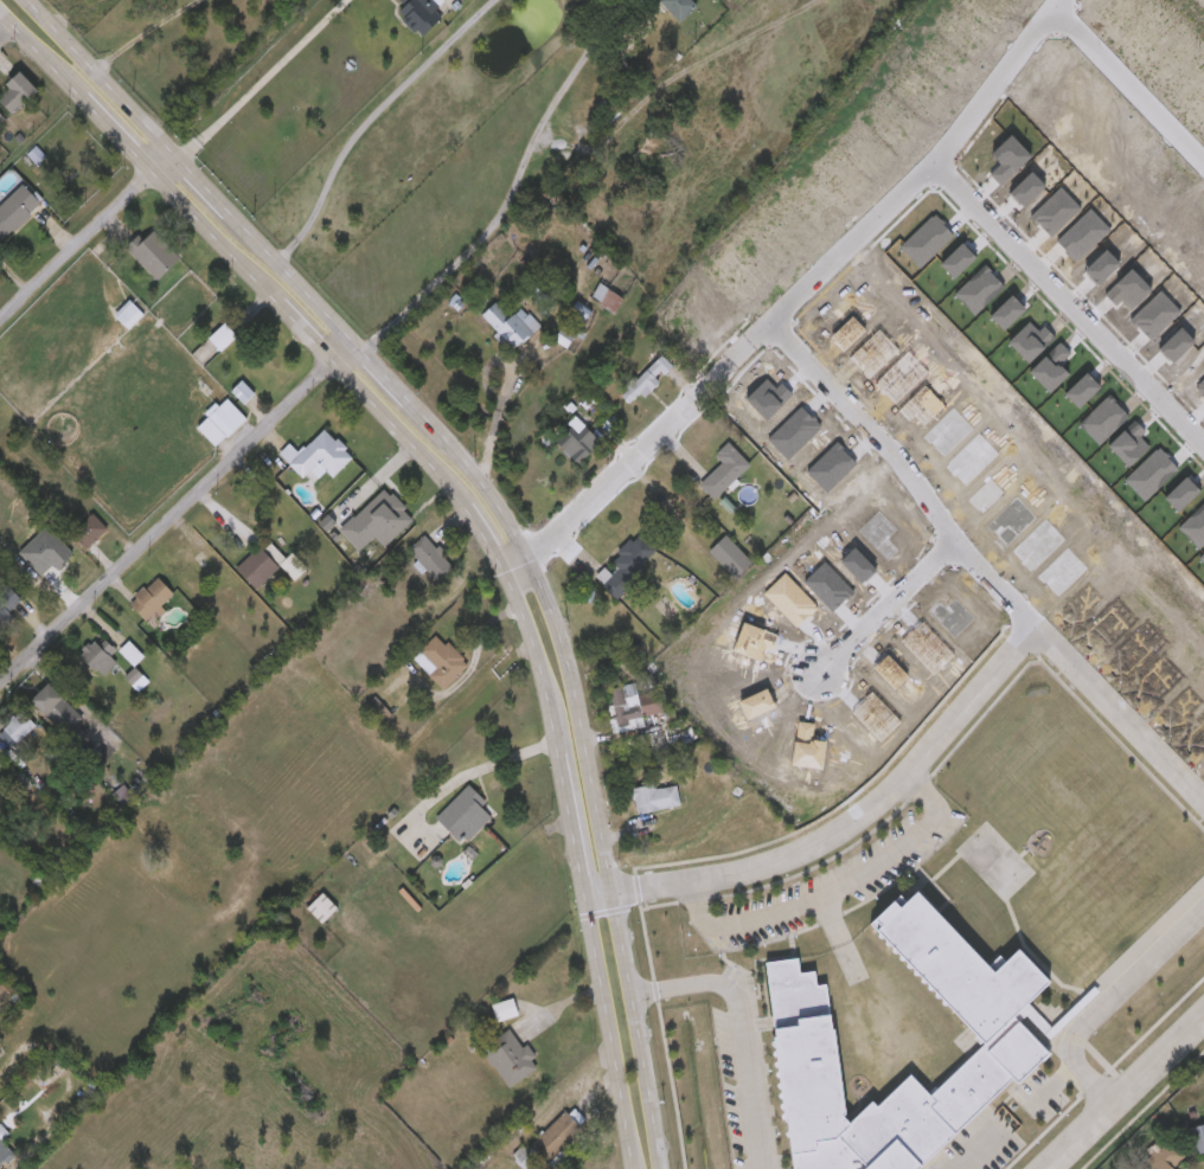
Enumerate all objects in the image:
building: (679, 8)
building: (421, 13)
road: (4, 31)
road: (139, 32)
road: (664, 79)
road: (1131, 82)
road: (256, 83)
building: (18, 94)
building: (2, 120)
road: (364, 121)
road: (506, 192)
road: (892, 210)
building: (17, 211)
road: (82, 238)
building: (154, 255)
building: (608, 301)
road: (1072, 301)
building: (128, 316)
building: (511, 327)
building: (223, 339)
building: (646, 383)
building: (222, 425)
road: (493, 425)
building: (577, 444)
building: (319, 457)
road: (680, 457)
road: (912, 468)
building: (725, 473)
road: (607, 494)
road: (489, 503)
road: (467, 512)
road: (173, 515)
building: (377, 522)
building: (89, 532)
road: (571, 557)
building: (731, 558)
building: (53, 559)
building: (431, 560)
building: (184, 566)
building: (626, 567)
building: (294, 569)
building: (257, 570)
building: (150, 600)
building: (8, 605)
road: (891, 608)
building: (132, 655)
building: (441, 663)
building: (57, 711)
building: (629, 712)
road: (1116, 717)
building: (15, 732)
building: (1, 766)
road: (467, 769)
building: (657, 801)
building: (466, 818)
road: (843, 828)
building: (659, 886)
road: (827, 889)
building: (322, 911)
road: (1110, 1002)
building: (505, 1013)
road: (738, 1028)
building: (799, 1029)
building: (511, 1060)
road: (1121, 1090)
building: (1196, 1136)
building: (551, 1143)
building: (1160, 1151)
building: (4, 1155)

